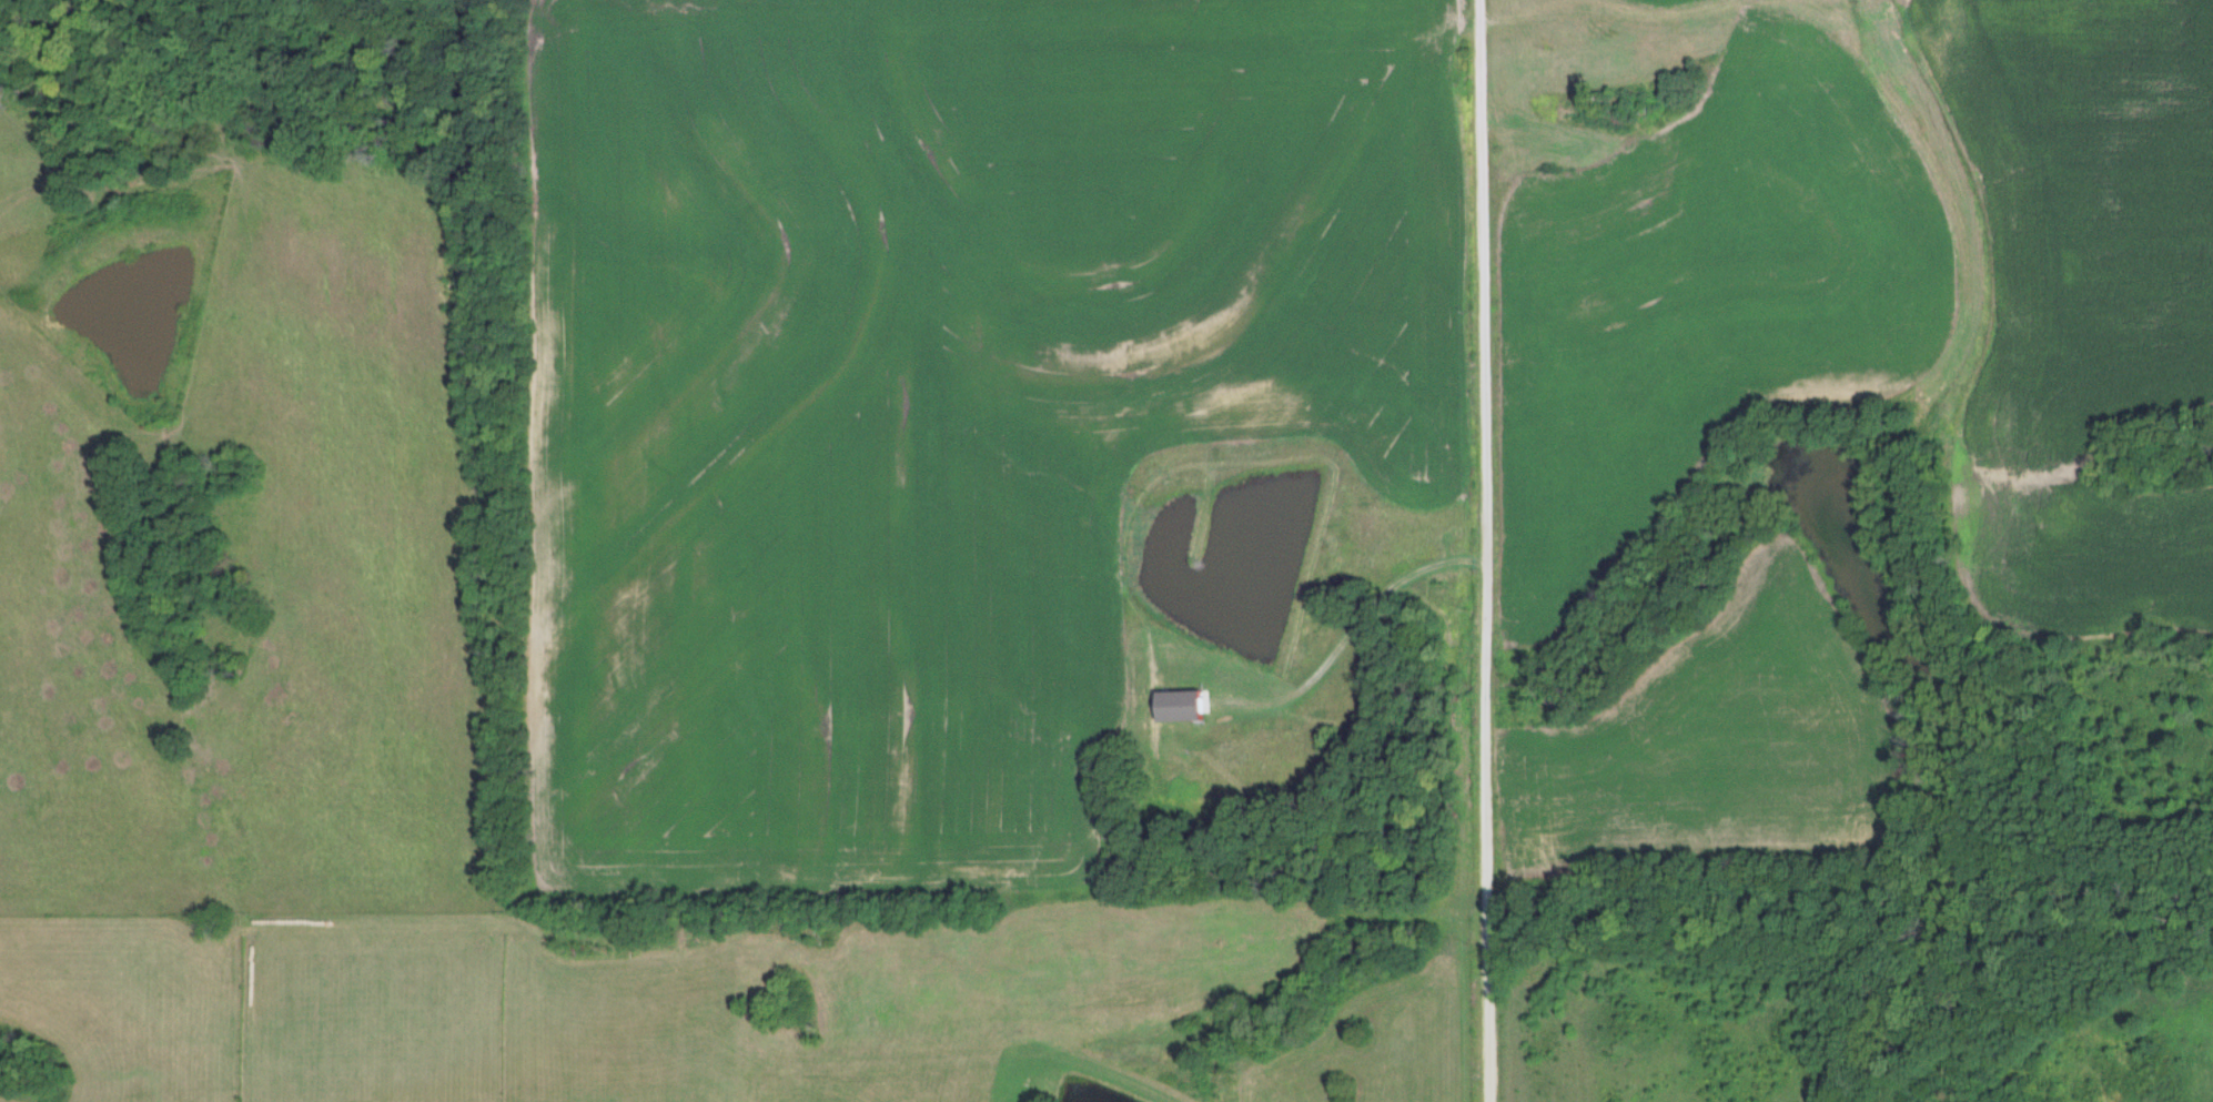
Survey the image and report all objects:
road: (1484, 550)

